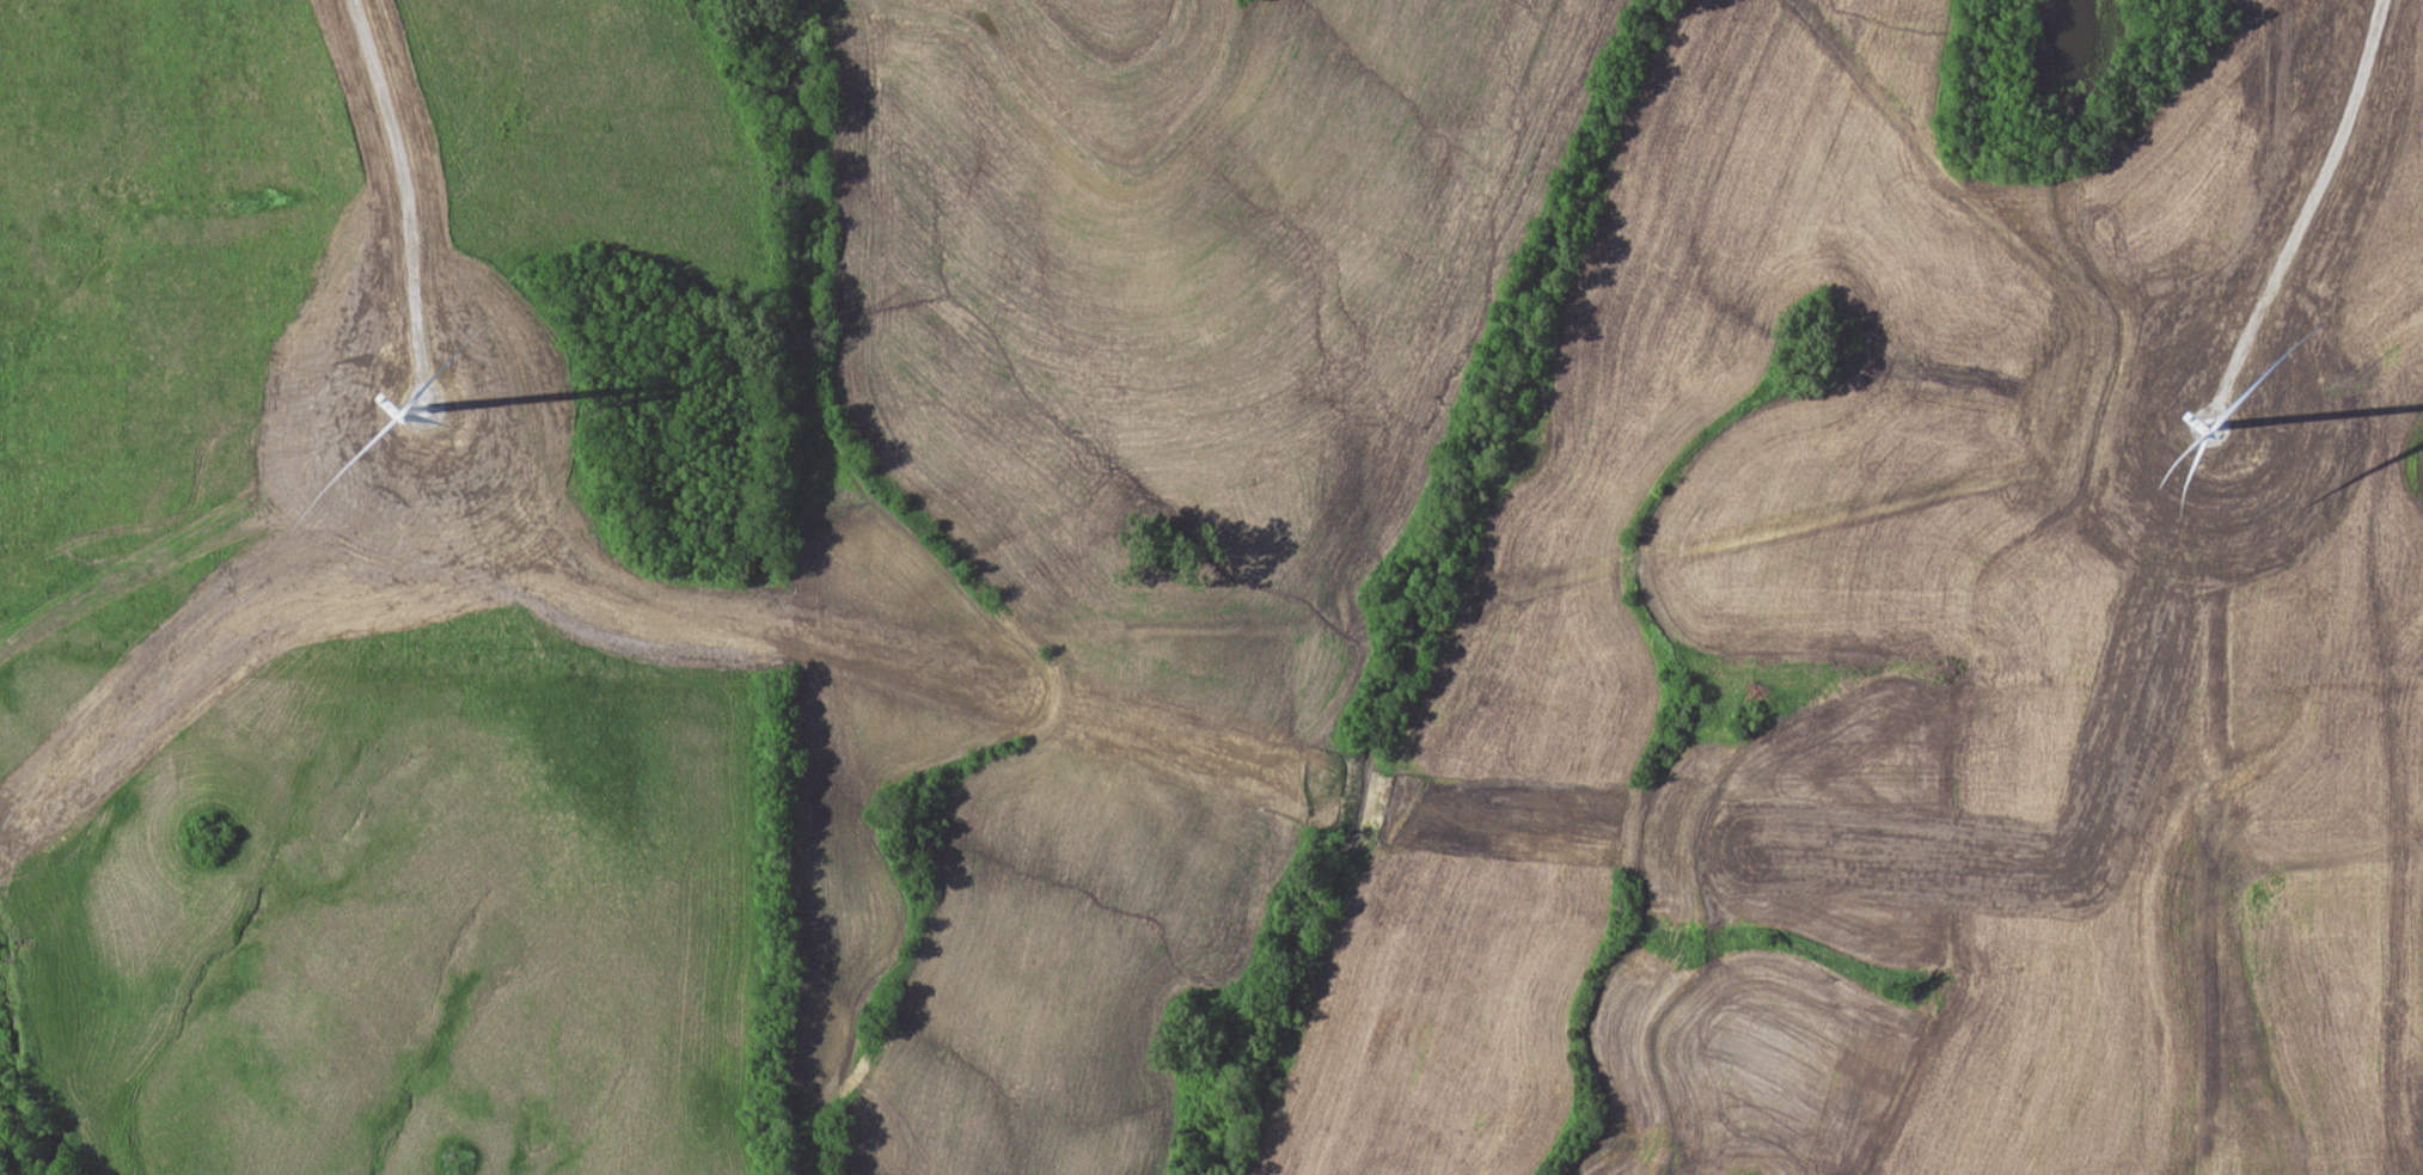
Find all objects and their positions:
wind turbine: (410, 405)
wind turbine: (2213, 429)

